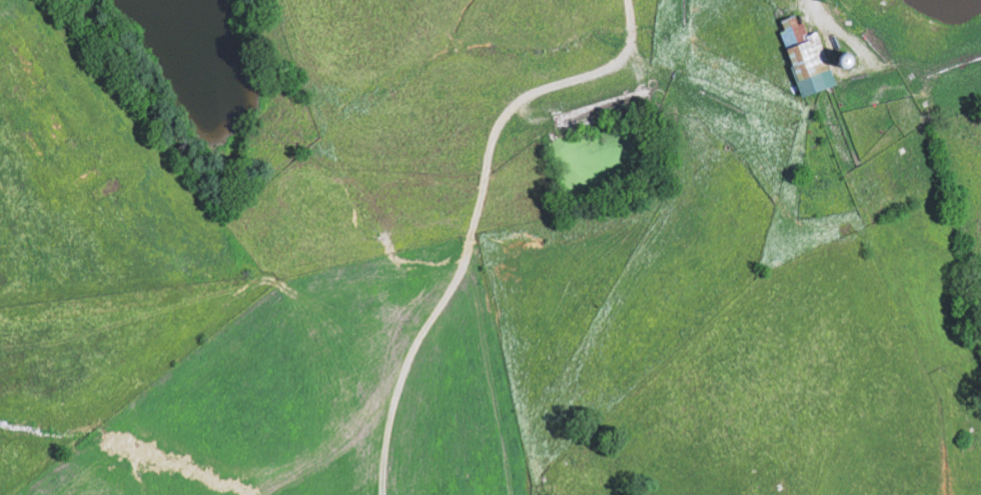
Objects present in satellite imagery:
building: (808, 57)

